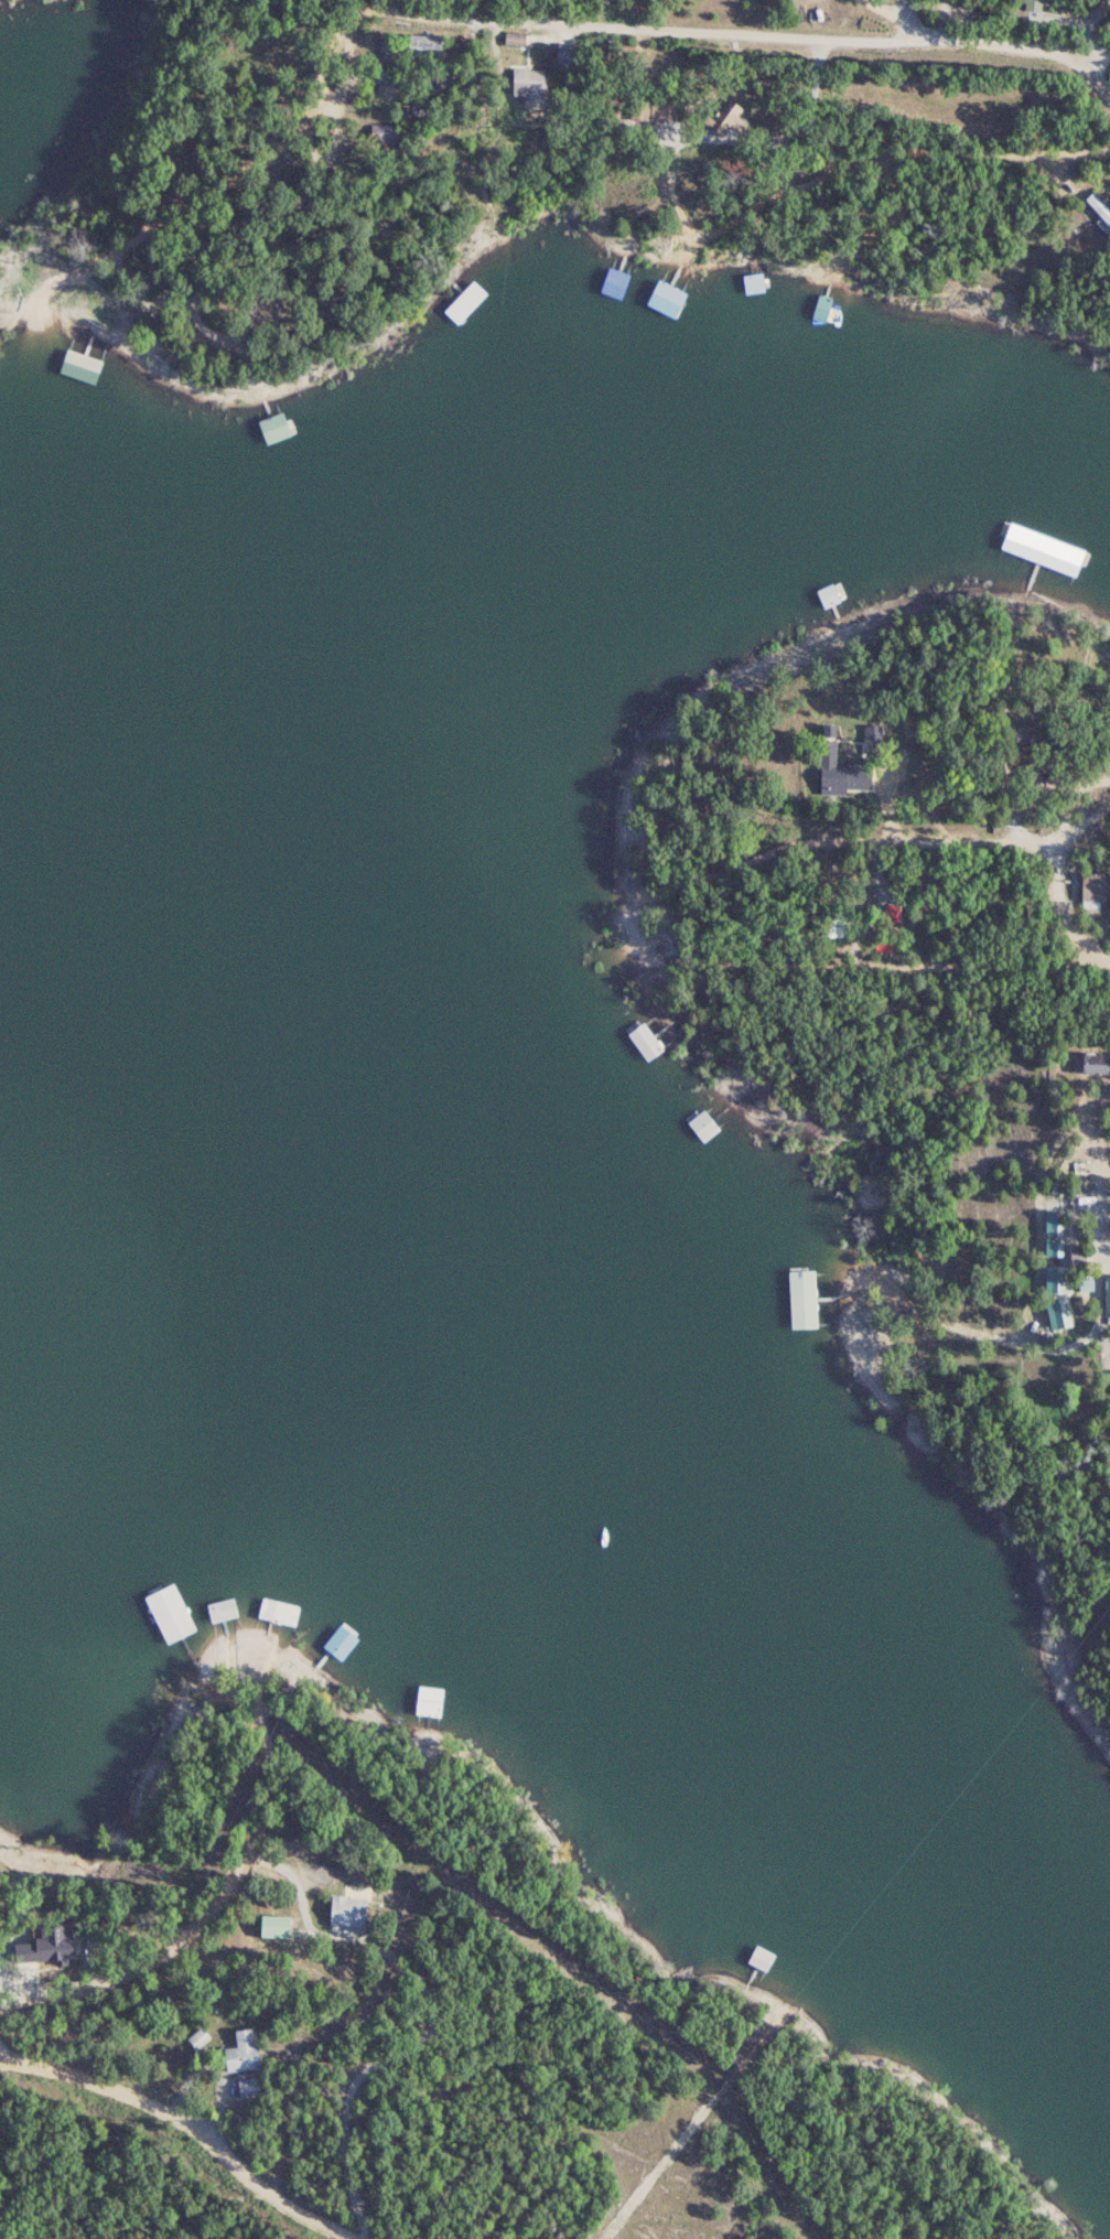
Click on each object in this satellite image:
road: (901, 19)
road: (494, 25)
road: (1097, 61)
road: (324, 64)
building: (529, 80)
building: (735, 117)
road: (974, 153)
road: (662, 162)
road: (882, 169)
building: (618, 273)
building: (725, 281)
building: (677, 288)
building: (813, 293)
road: (47, 322)
building: (75, 338)
building: (270, 416)
building: (834, 607)
building: (845, 777)
road: (1073, 799)
road: (1082, 824)
road: (858, 840)
road: (1063, 909)
building: (648, 1034)
building: (1097, 1063)
building: (723, 1110)
building: (813, 1291)
building: (1108, 1293)
building: (1057, 1314)
building: (218, 1628)
building: (177, 1637)
building: (327, 1650)
road: (235, 1676)
road: (261, 1689)
road: (219, 1692)
road: (270, 1863)
building: (349, 1909)
road: (197, 1919)
building: (276, 1924)
building: (49, 1944)
building: (789, 1981)
building: (243, 2050)
road: (188, 2122)

